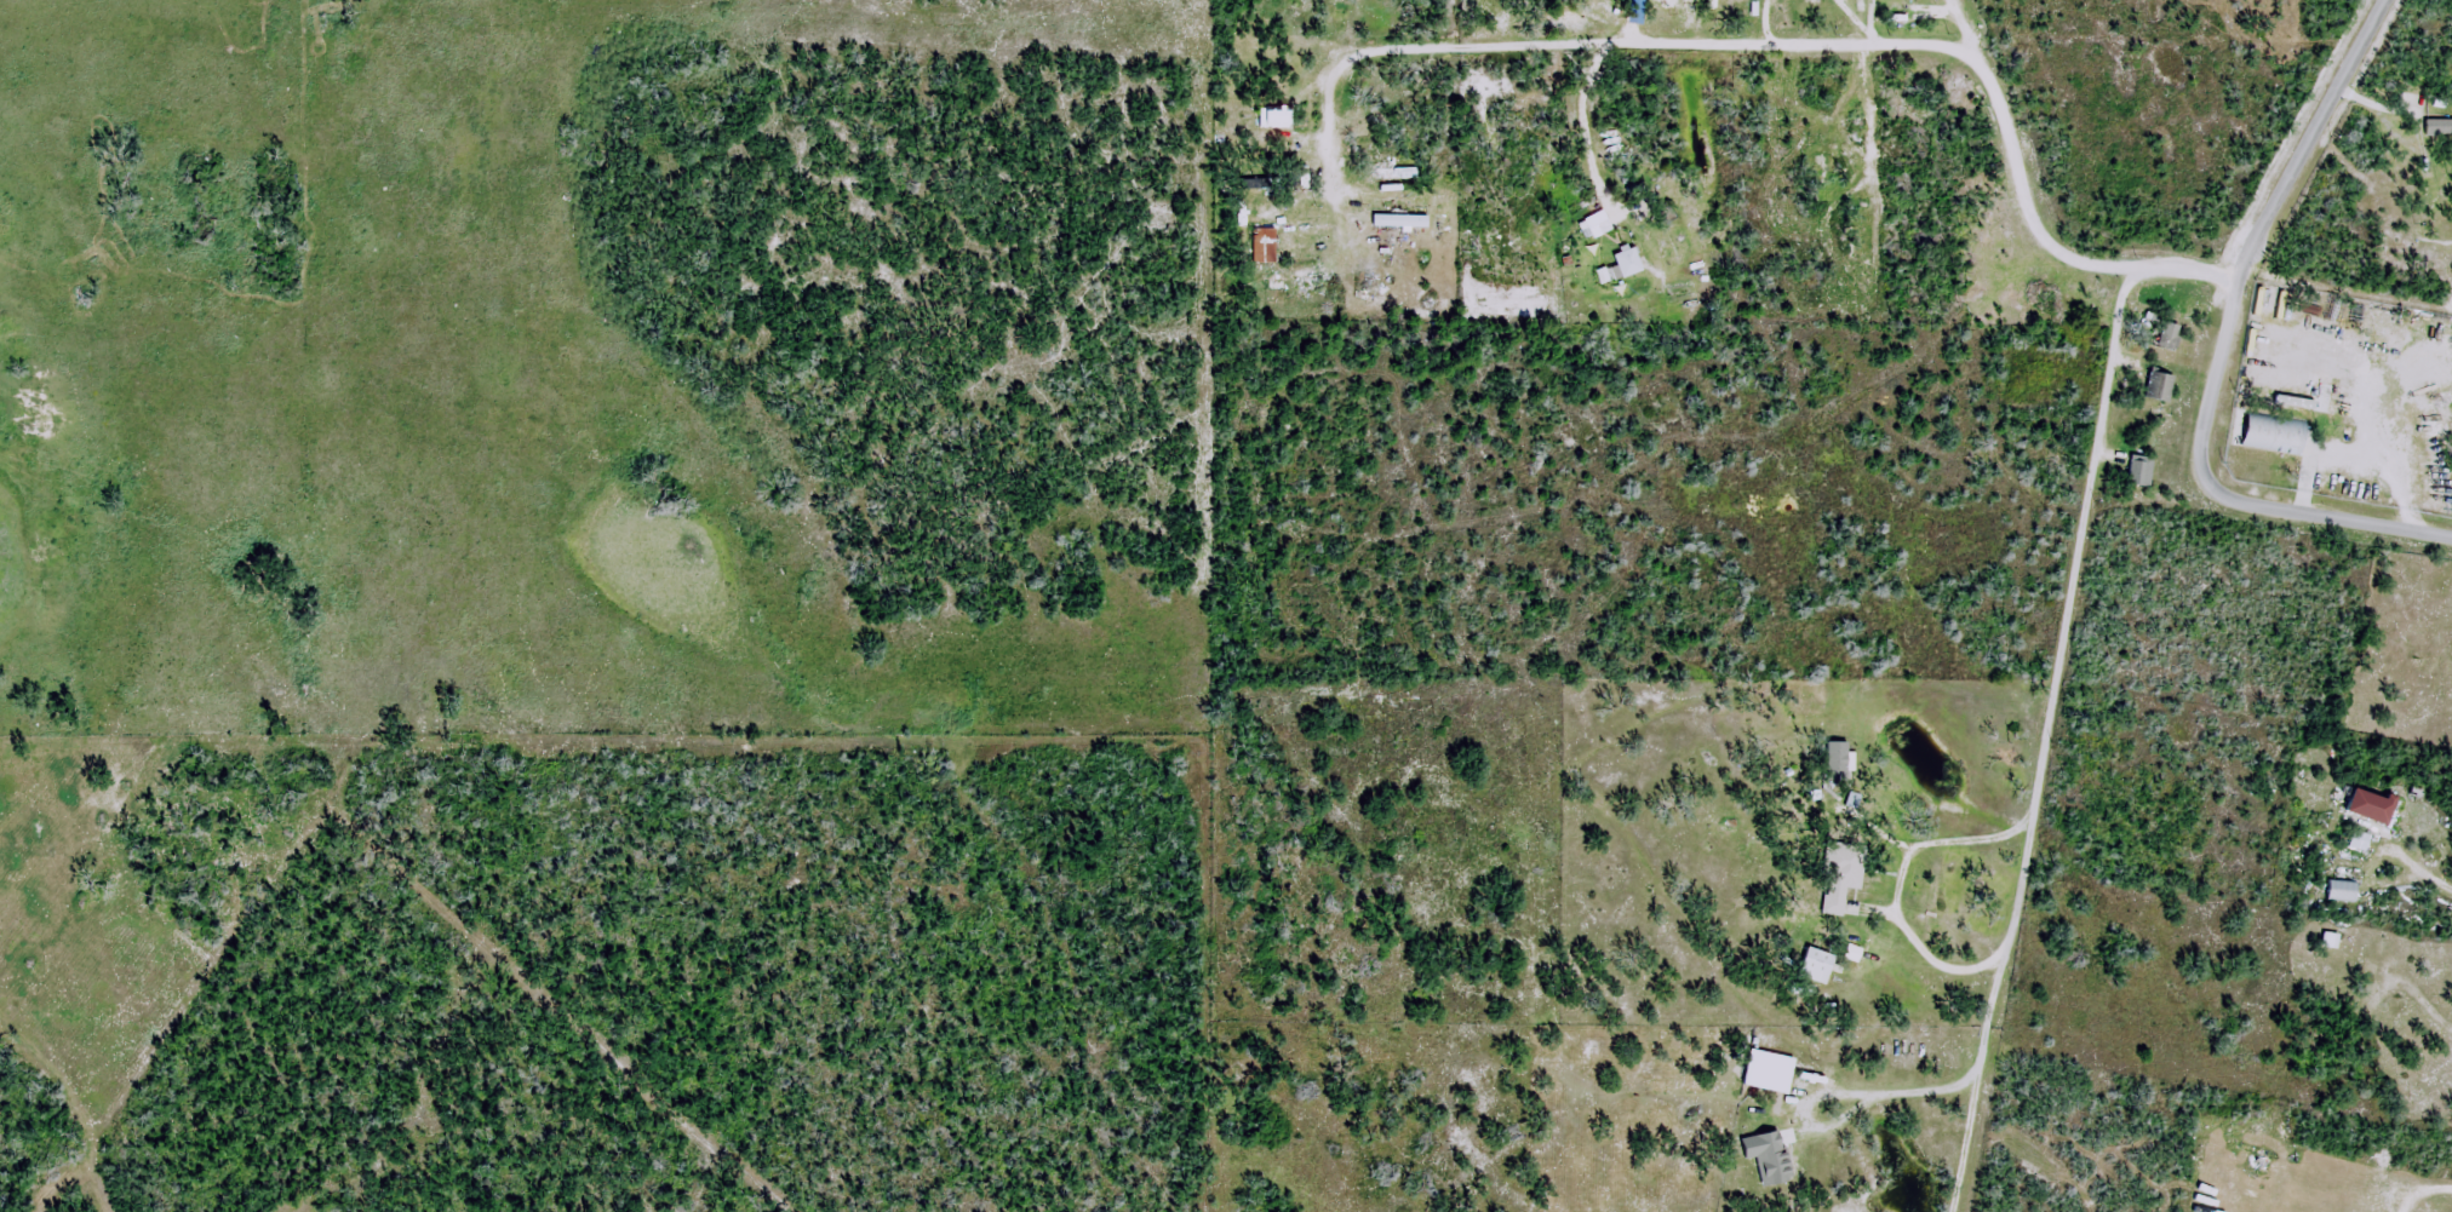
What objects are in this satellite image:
road: (1803, 41)
building: (1277, 116)
building: (1390, 171)
road: (2270, 214)
road: (2046, 242)
building: (1265, 245)
building: (1628, 257)
building: (2171, 335)
building: (2160, 385)
building: (2268, 433)
building: (2142, 471)
road: (2308, 513)
road: (2055, 680)
building: (1838, 760)
building: (2374, 805)
building: (1841, 874)
road: (1898, 880)
building: (2337, 890)
building: (1818, 966)
road: (1840, 1092)
building: (2389, 1178)

